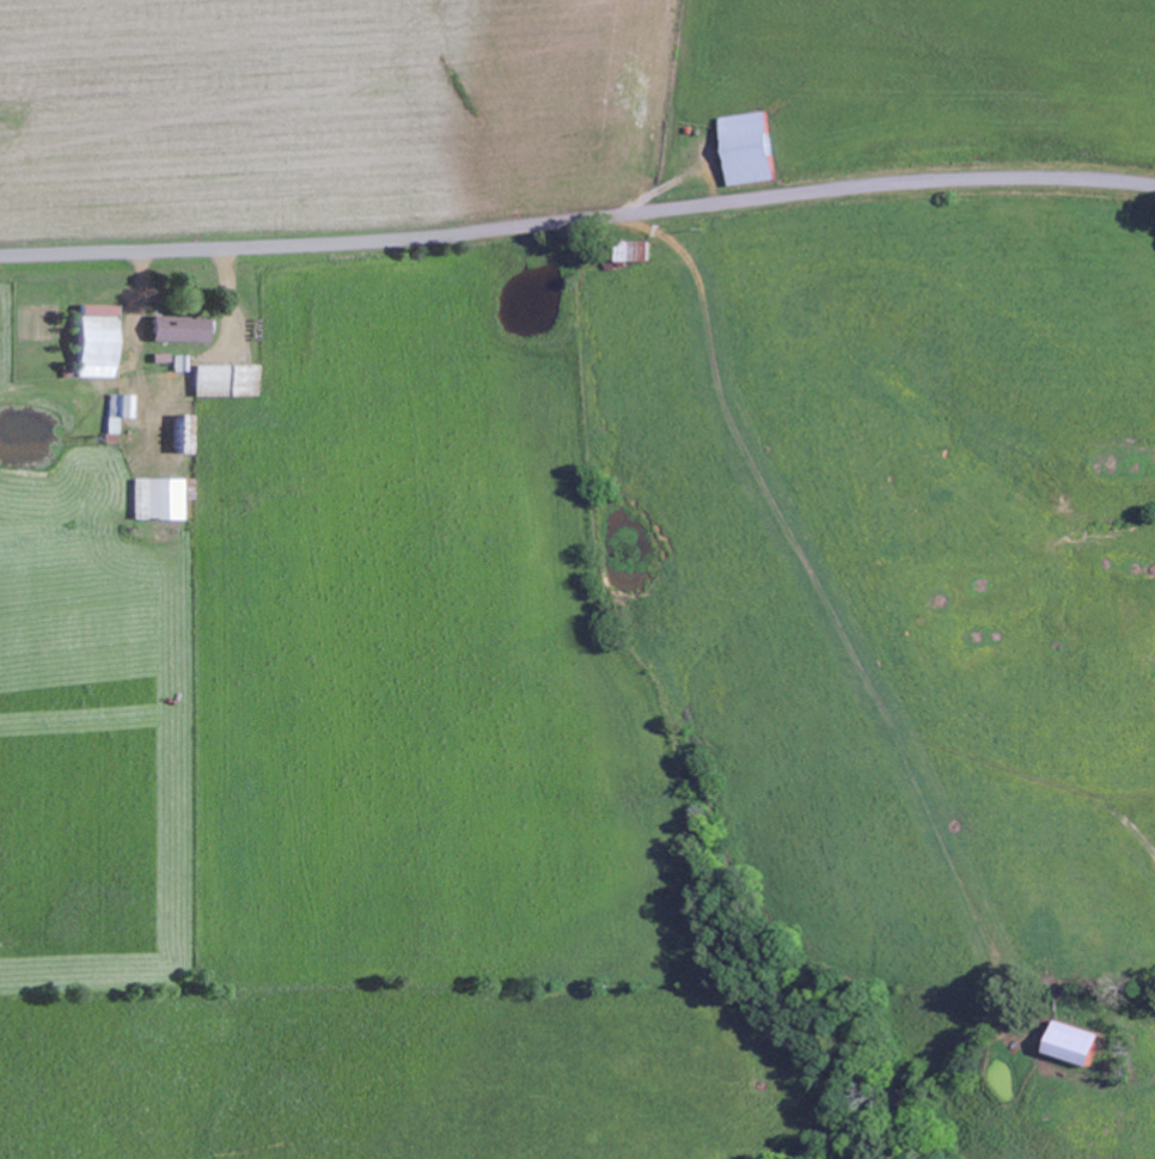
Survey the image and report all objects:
building: (751, 150)
road: (577, 218)
building: (178, 330)
building: (96, 341)
building: (178, 364)
building: (224, 382)
building: (118, 410)
building: (182, 434)
building: (158, 499)
building: (1078, 1045)

